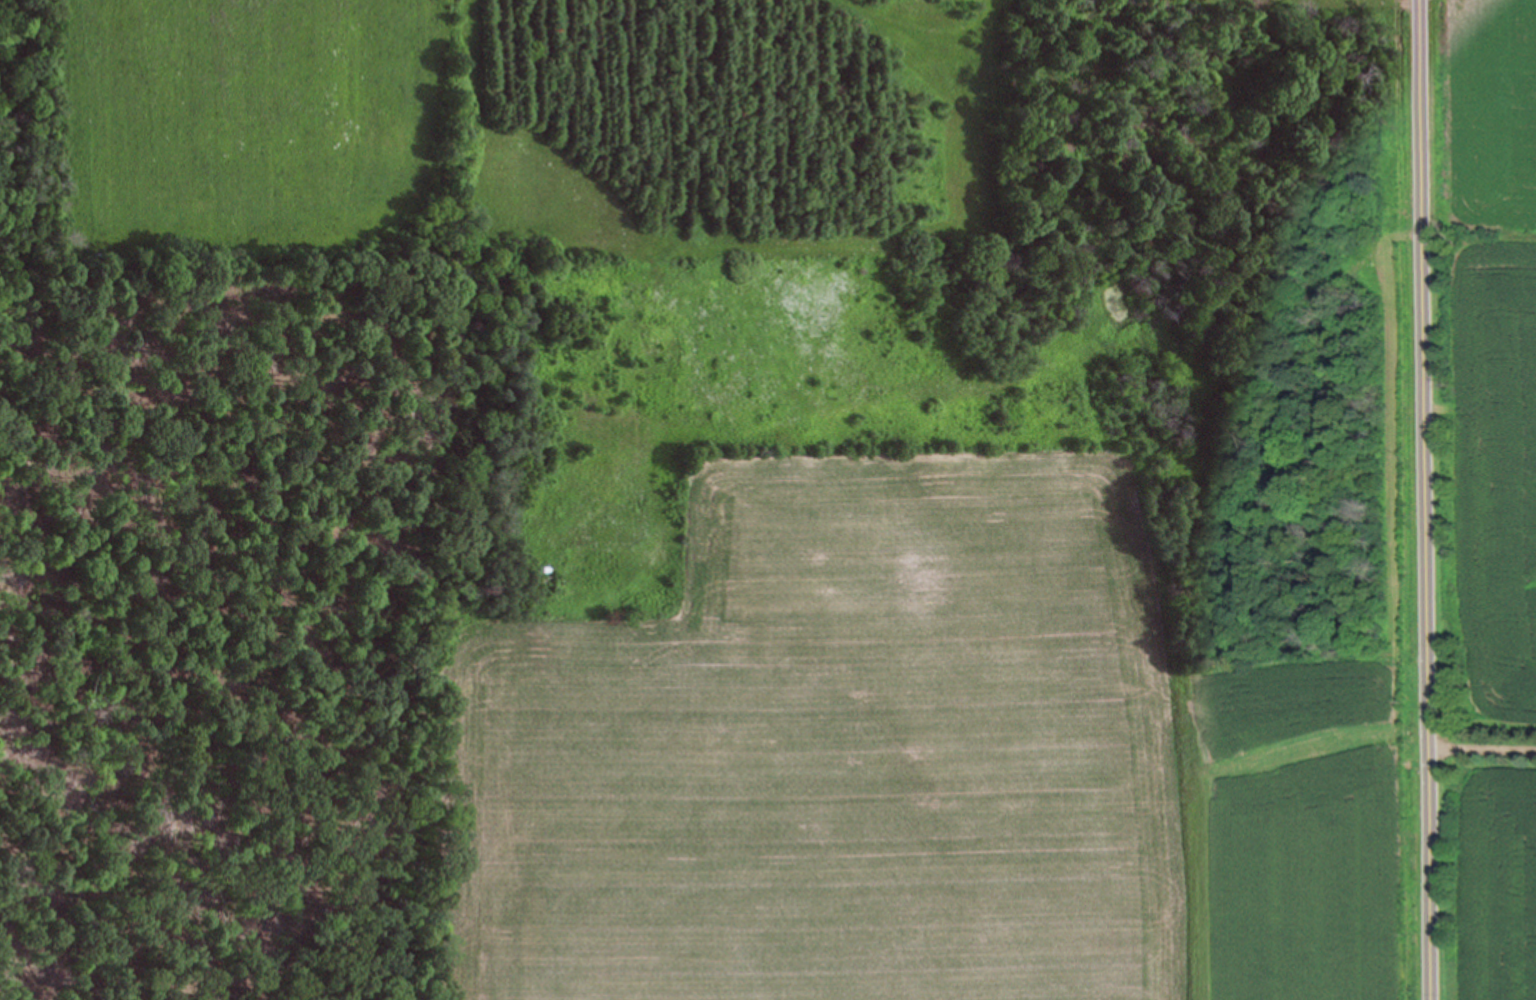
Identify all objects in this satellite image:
road: (1424, 500)

